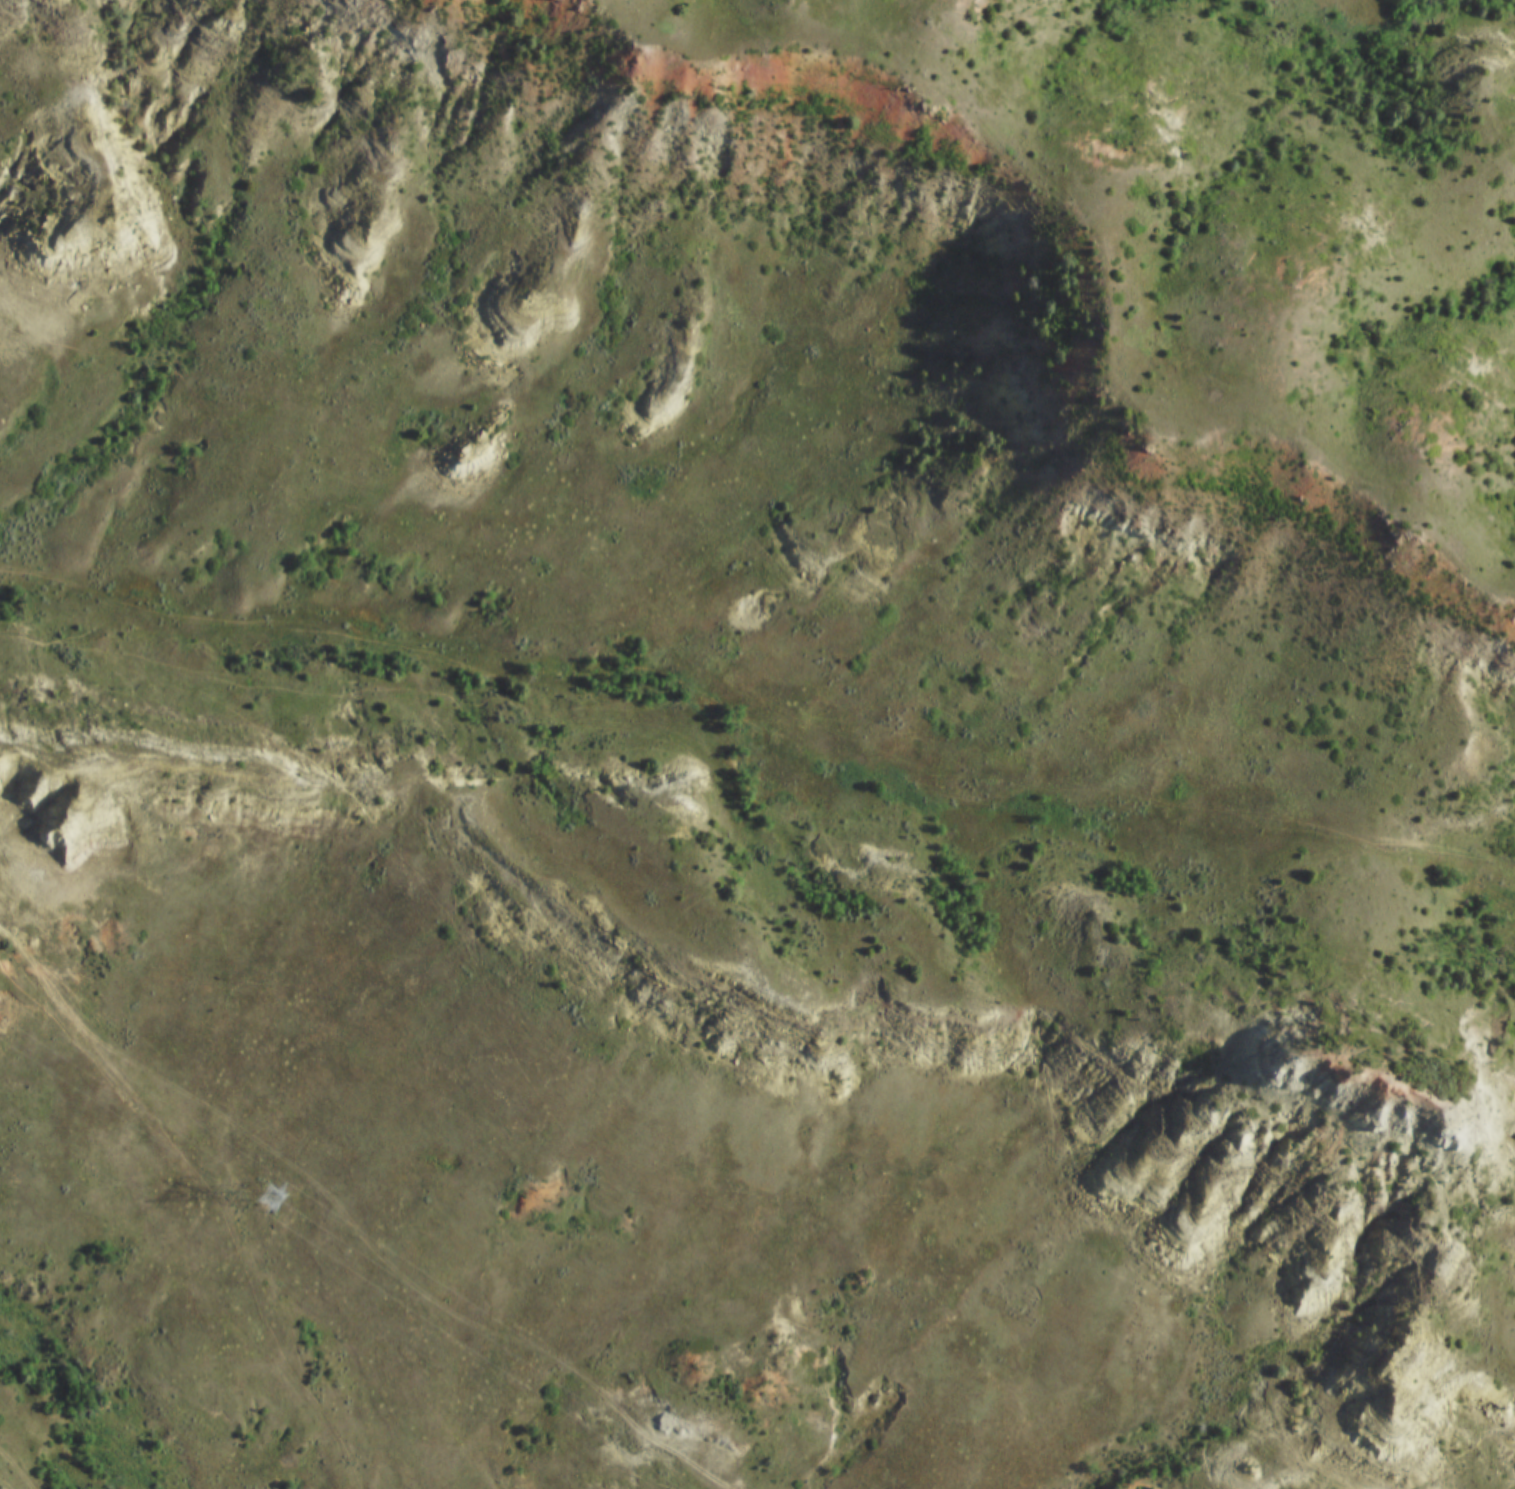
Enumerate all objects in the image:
power tower: (272, 1197)

